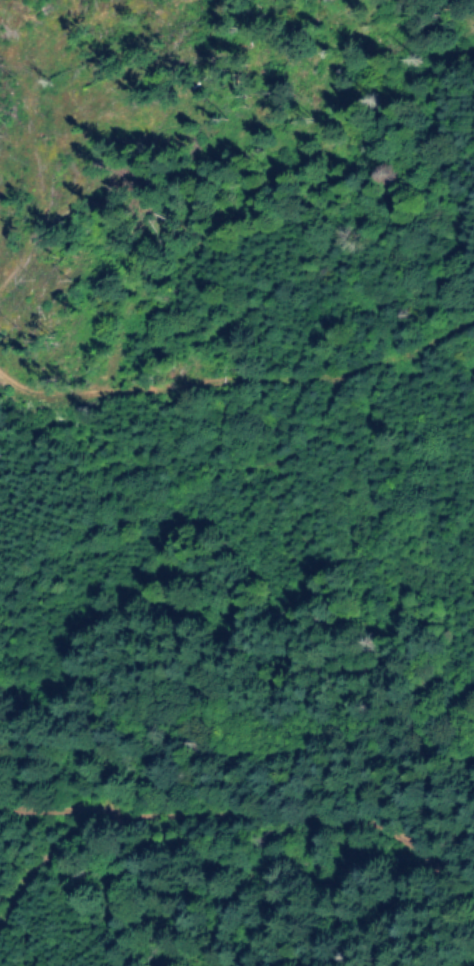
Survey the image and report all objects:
road: (239, 400)

